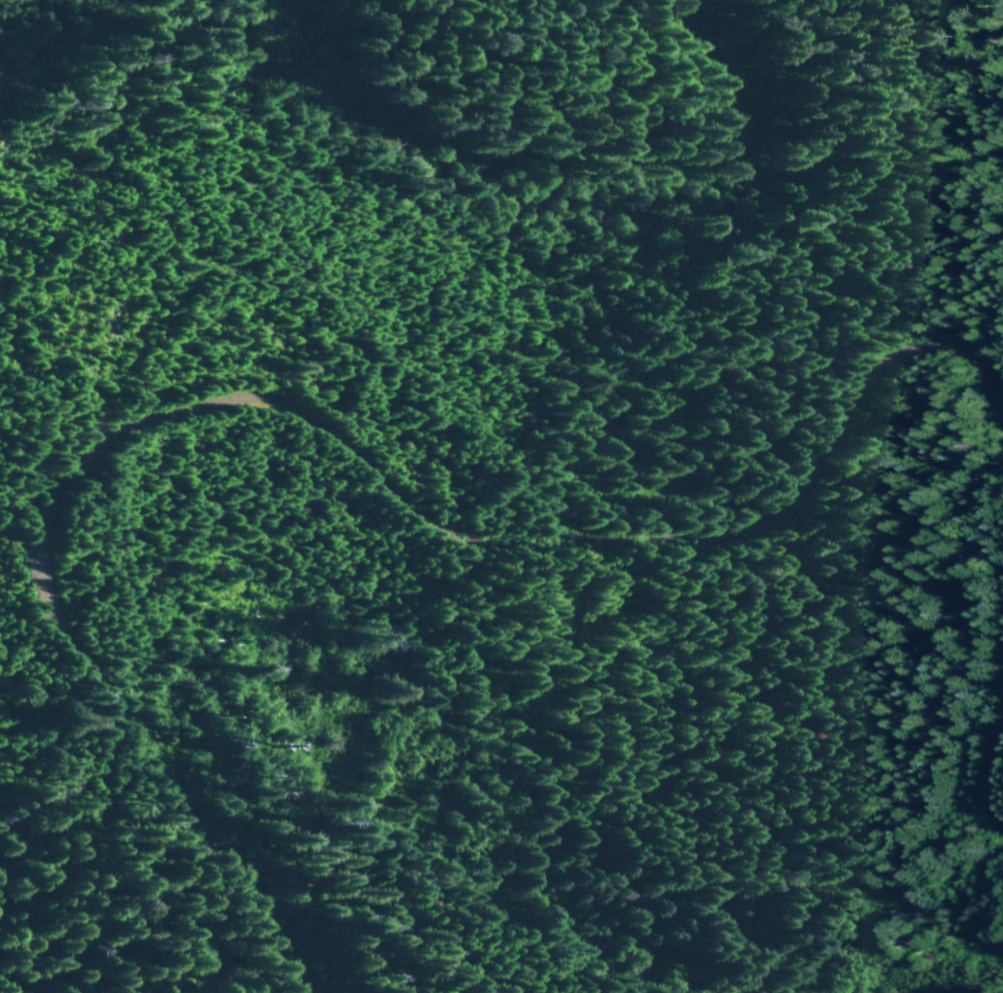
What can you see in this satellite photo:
road: (307, 423)
road: (995, 793)

